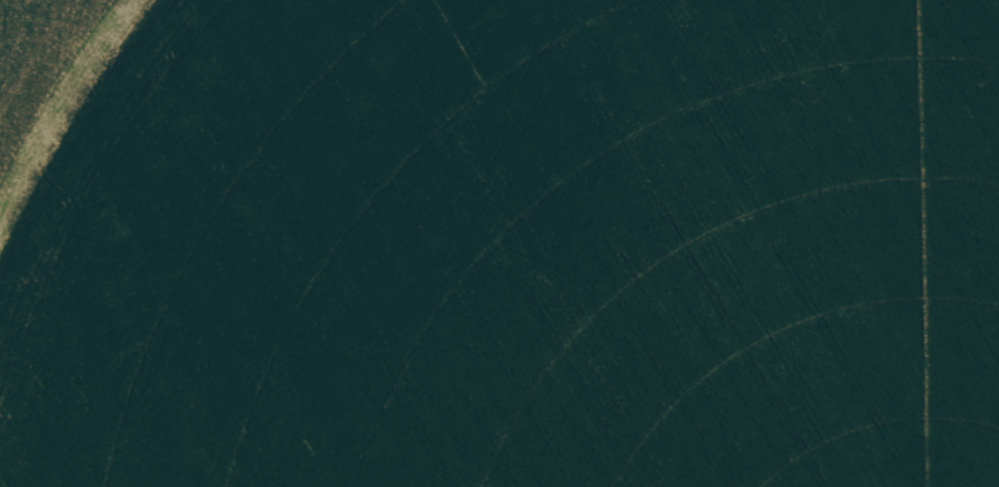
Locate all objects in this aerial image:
crop: (42, 53)

